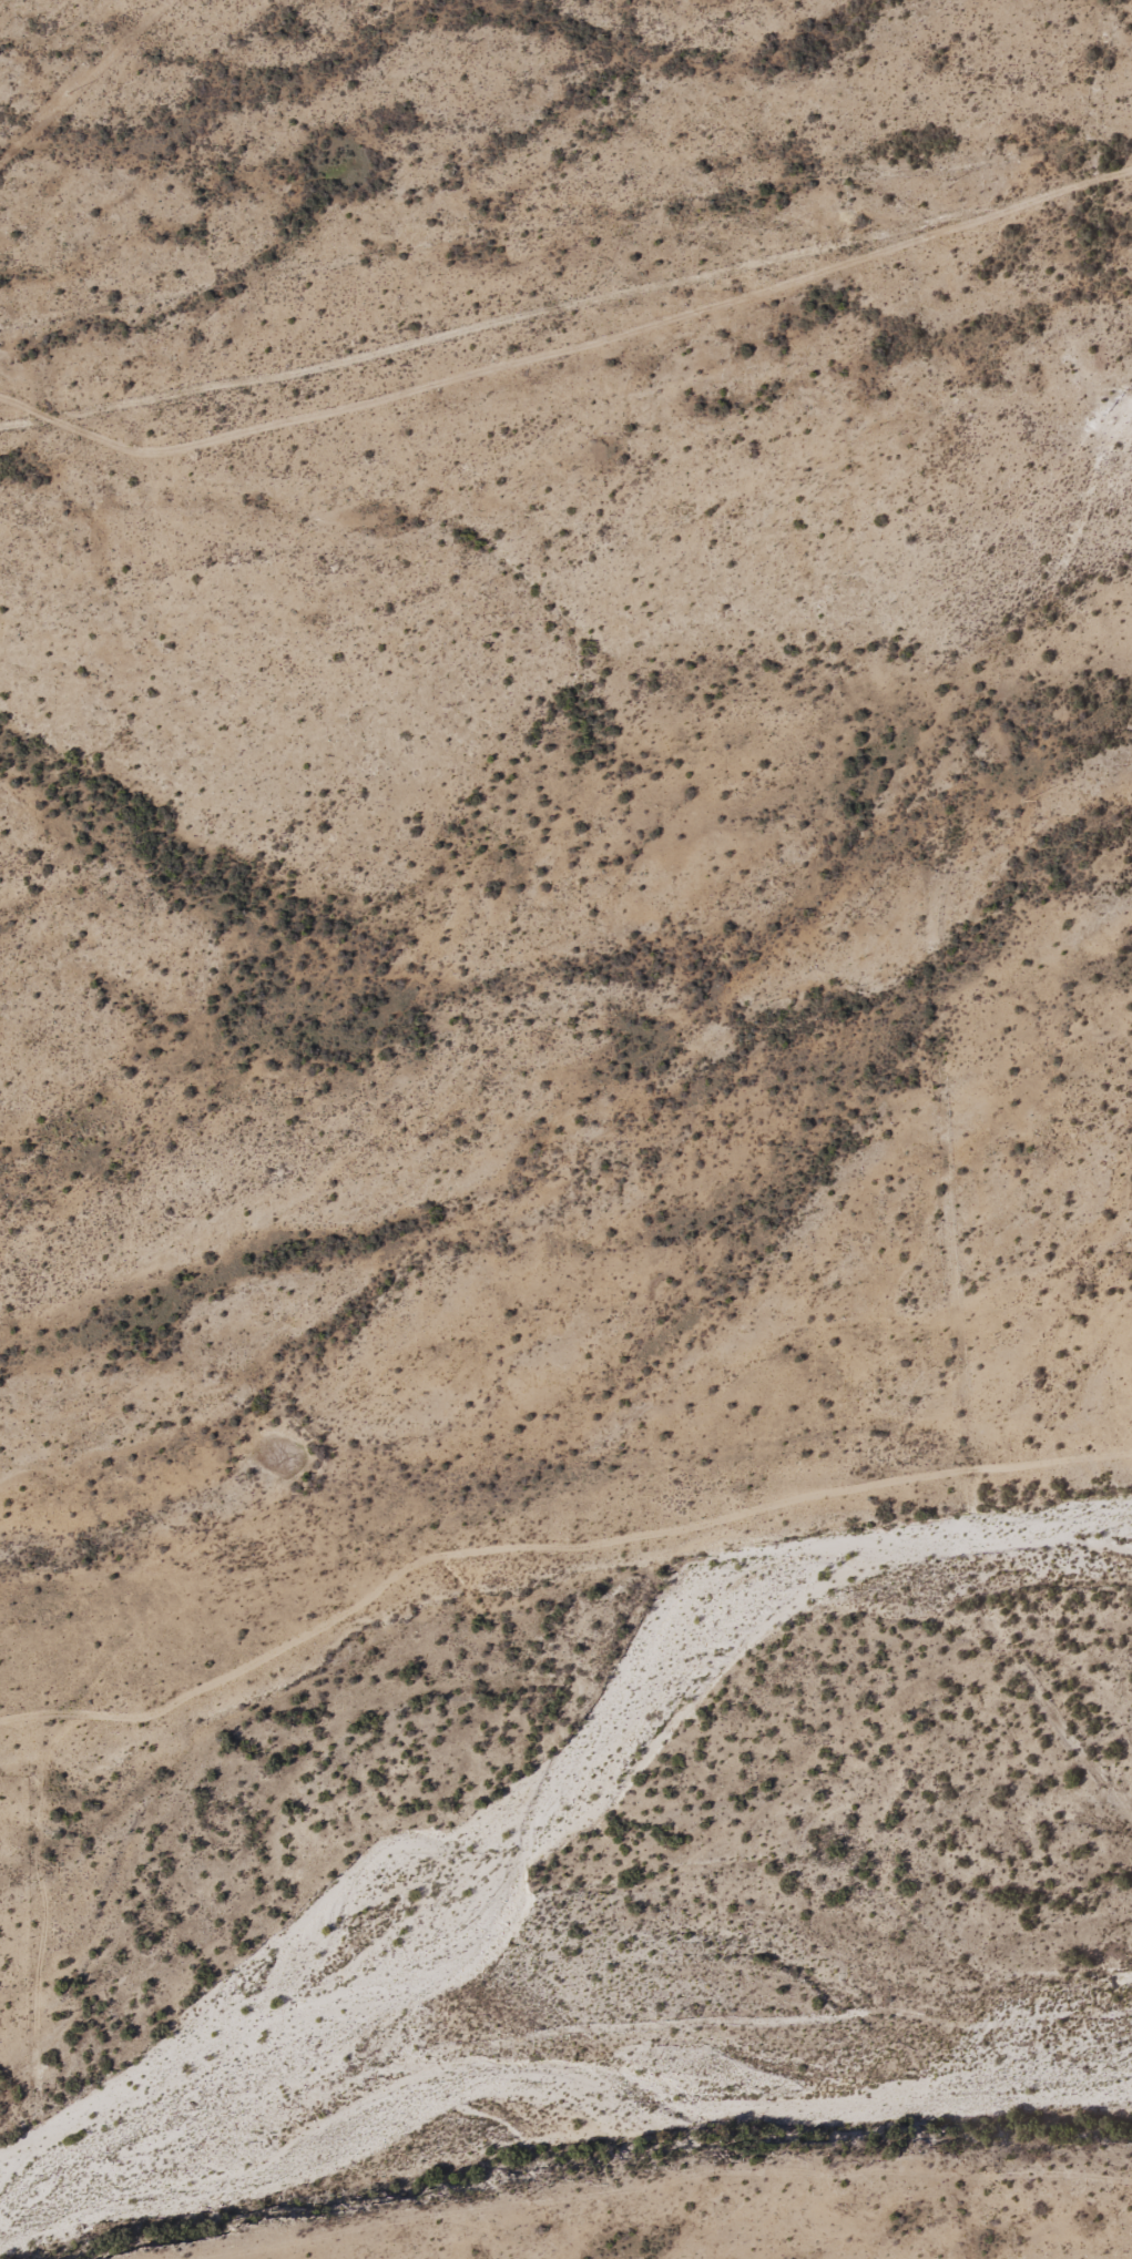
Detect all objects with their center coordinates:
road: (563, 204)

